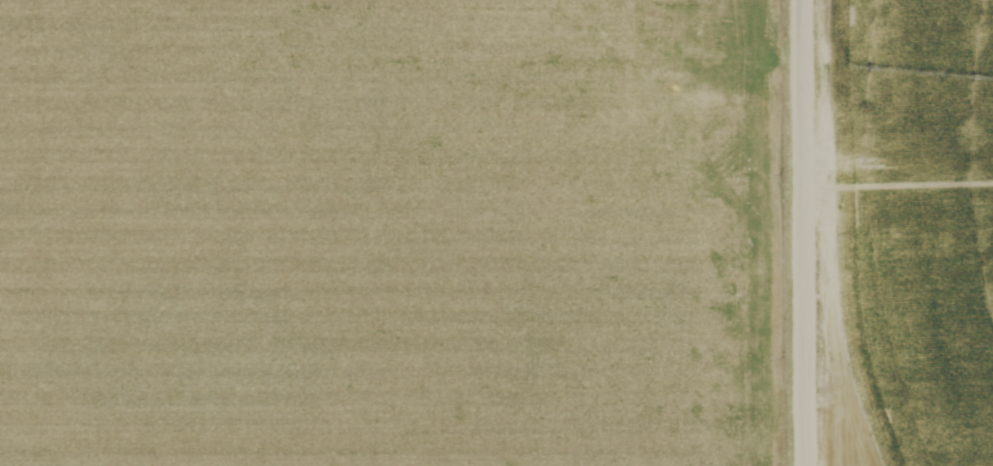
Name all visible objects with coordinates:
road: (801, 233)

